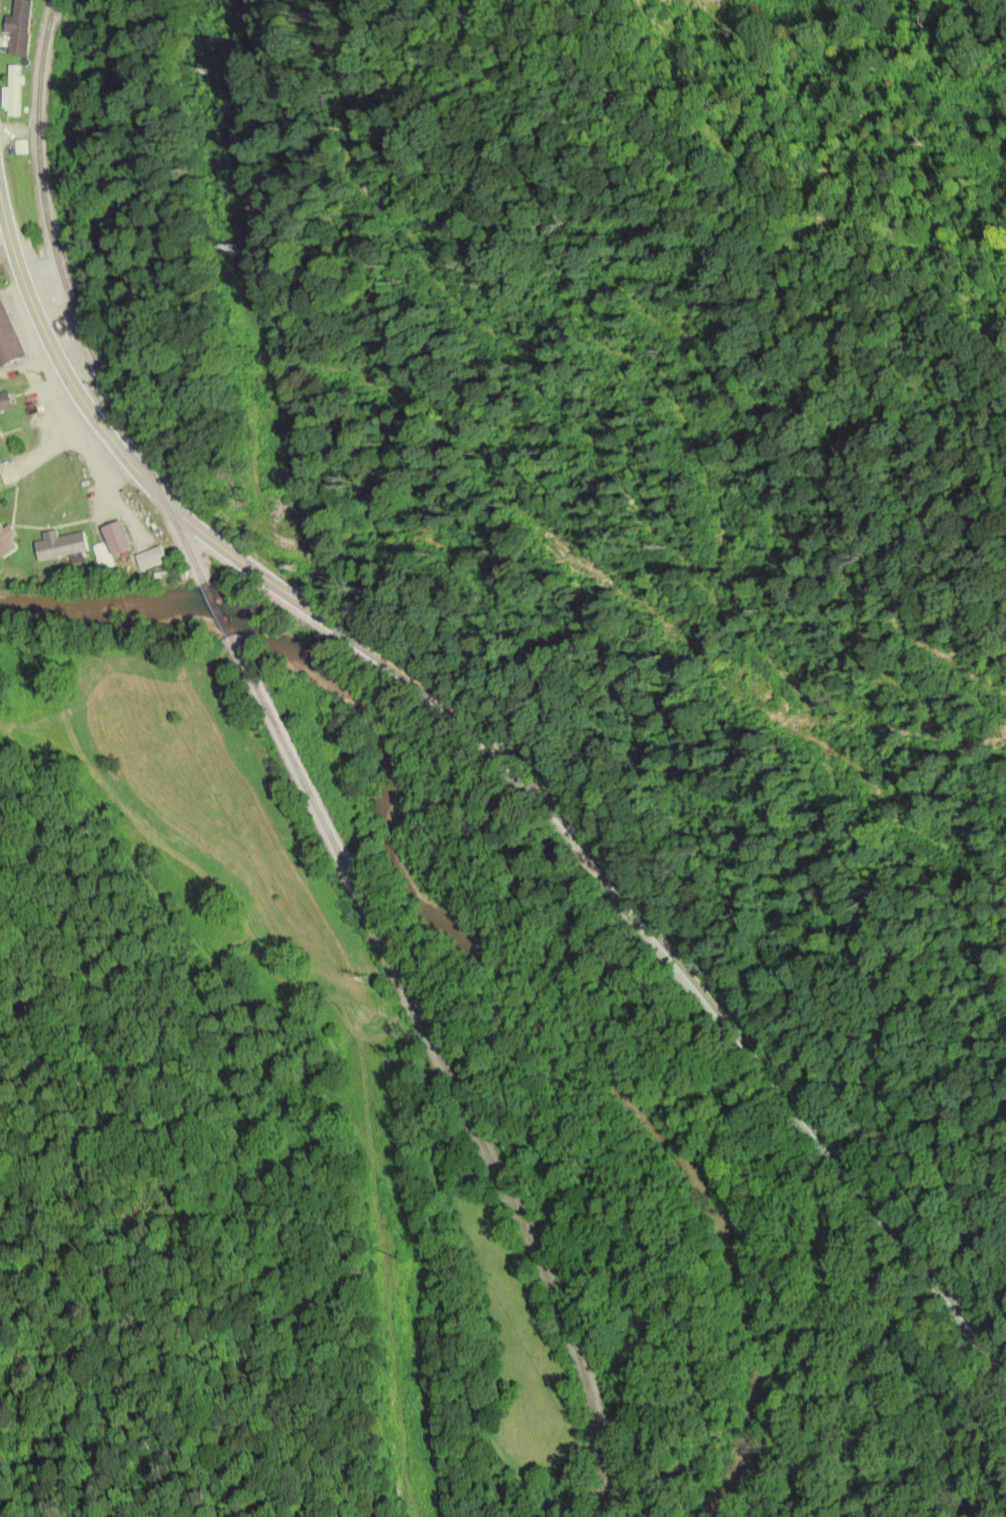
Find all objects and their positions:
building: (18, 26)
power tower: (207, 68)
power tower: (232, 249)
building: (8, 339)
building: (5, 401)
building: (1, 438)
building: (116, 537)
building: (6, 539)
building: (62, 545)
building: (102, 554)
building: (150, 557)
power tower: (296, 571)
railway: (290, 766)
road: (506, 767)
river: (461, 954)
power tower: (368, 979)
power tower: (399, 1250)

